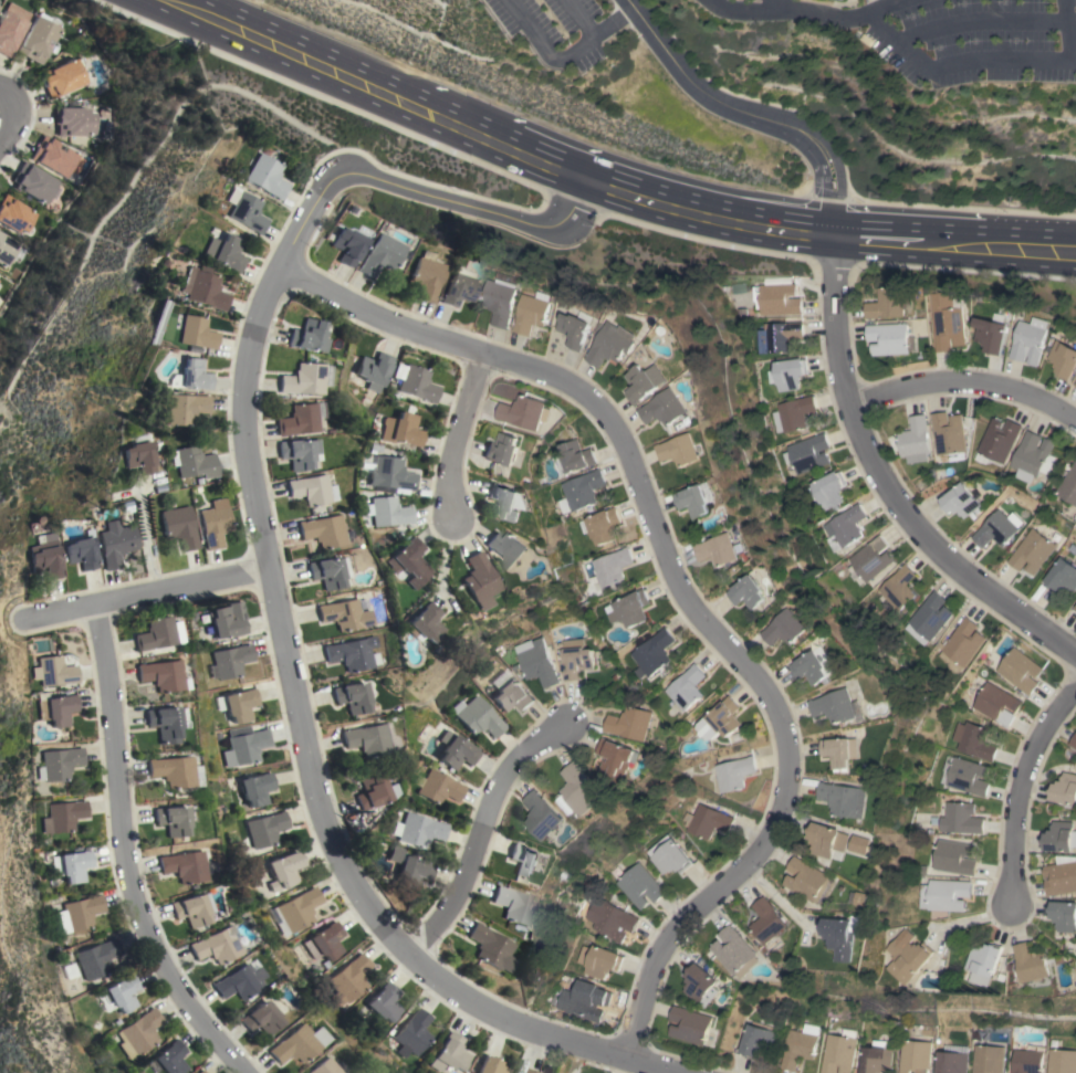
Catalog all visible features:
building: (844, 0)
road: (787, 7)
road: (873, 11)
road: (188, 13)
road: (217, 13)
road: (974, 23)
building: (10, 27)
road: (1063, 31)
road: (594, 35)
building: (36, 39)
road: (889, 43)
road: (543, 46)
building: (63, 77)
road: (8, 112)
road: (753, 113)
building: (74, 122)
building: (53, 157)
building: (264, 176)
building: (34, 183)
road: (645, 192)
building: (246, 212)
building: (13, 214)
building: (346, 246)
building: (6, 250)
building: (222, 252)
building: (378, 255)
building: (424, 276)
building: (201, 288)
building: (455, 290)
building: (779, 299)
building: (503, 301)
building: (890, 302)
building: (534, 314)
building: (948, 322)
building: (576, 329)
building: (195, 333)
building: (992, 335)
building: (307, 336)
building: (776, 336)
building: (890, 338)
building: (1031, 340)
building: (614, 344)
building: (1065, 359)
building: (374, 370)
building: (788, 374)
building: (194, 375)
building: (303, 379)
building: (646, 381)
building: (415, 382)
building: (1075, 386)
road: (965, 389)
building: (666, 408)
building: (184, 409)
building: (524, 412)
building: (792, 414)
building: (297, 420)
building: (400, 430)
road: (462, 434)
building: (950, 435)
building: (916, 440)
building: (999, 442)
building: (502, 449)
building: (680, 450)
building: (297, 453)
building: (806, 453)
building: (576, 455)
building: (1034, 456)
building: (135, 457)
building: (192, 465)
building: (386, 473)
road: (892, 483)
building: (1069, 486)
building: (310, 490)
building: (582, 490)
building: (826, 490)
building: (504, 501)
building: (694, 501)
building: (960, 501)
building: (388, 512)
building: (215, 523)
building: (603, 525)
building: (845, 525)
building: (179, 526)
building: (995, 529)
building: (323, 530)
road: (143, 538)
building: (114, 543)
building: (506, 548)
building: (720, 549)
building: (79, 551)
building: (1032, 553)
building: (41, 556)
building: (405, 558)
building: (870, 558)
road: (438, 561)
building: (612, 566)
building: (326, 572)
building: (1062, 576)
building: (476, 580)
road: (274, 583)
building: (898, 587)
building: (750, 592)
road: (690, 593)
road: (149, 597)
building: (1075, 607)
building: (630, 609)
building: (345, 613)
building: (928, 618)
building: (226, 623)
building: (419, 623)
building: (786, 628)
building: (158, 634)
building: (962, 644)
building: (656, 652)
building: (351, 653)
building: (575, 659)
building: (231, 660)
building: (535, 661)
building: (812, 667)
building: (1020, 671)
building: (51, 672)
building: (160, 675)
building: (687, 688)
building: (512, 696)
building: (352, 697)
building: (996, 703)
building: (240, 704)
building: (840, 706)
building: (54, 709)
building: (478, 716)
building: (718, 720)
building: (165, 723)
building: (631, 724)
building: (369, 739)
building: (973, 740)
building: (1074, 741)
building: (244, 747)
building: (456, 750)
building: (843, 750)
building: (617, 759)
building: (56, 764)
building: (170, 770)
building: (734, 772)
building: (968, 777)
building: (438, 787)
building: (257, 788)
building: (584, 789)
building: (1065, 789)
building: (373, 791)
road: (1025, 795)
building: (845, 799)
building: (543, 814)
building: (64, 816)
building: (960, 818)
building: (170, 820)
building: (707, 821)
building: (265, 829)
building: (420, 830)
building: (1061, 838)
road: (487, 839)
building: (829, 839)
road: (129, 855)
building: (667, 855)
building: (954, 858)
building: (523, 861)
building: (75, 865)
building: (182, 866)
building: (284, 871)
building: (414, 872)
building: (1061, 879)
building: (812, 881)
building: (639, 885)
building: (946, 894)
building: (865, 898)
building: (511, 905)
building: (191, 909)
building: (300, 909)
building: (80, 914)
building: (1064, 914)
building: (609, 919)
building: (769, 921)
building: (843, 937)
building: (327, 940)
building: (215, 945)
building: (489, 947)
building: (735, 950)
building: (97, 958)
building: (910, 958)
building: (597, 960)
building: (986, 962)
building: (1033, 962)
building: (349, 980)
building: (238, 982)
building: (702, 985)
building: (119, 993)
building: (587, 998)
building: (384, 1002)
building: (260, 1019)
building: (692, 1024)
building: (139, 1031)
building: (414, 1033)
building: (758, 1039)
building: (295, 1043)
building: (800, 1045)
building: (838, 1052)
building: (450, 1054)
building: (915, 1056)
building: (169, 1058)
building: (876, 1058)
building: (1026, 1058)
building: (988, 1059)
building: (1062, 1061)
building: (951, 1062)
building: (490, 1065)
building: (322, 1067)
building: (529, 1071)
building: (199, 1072)

